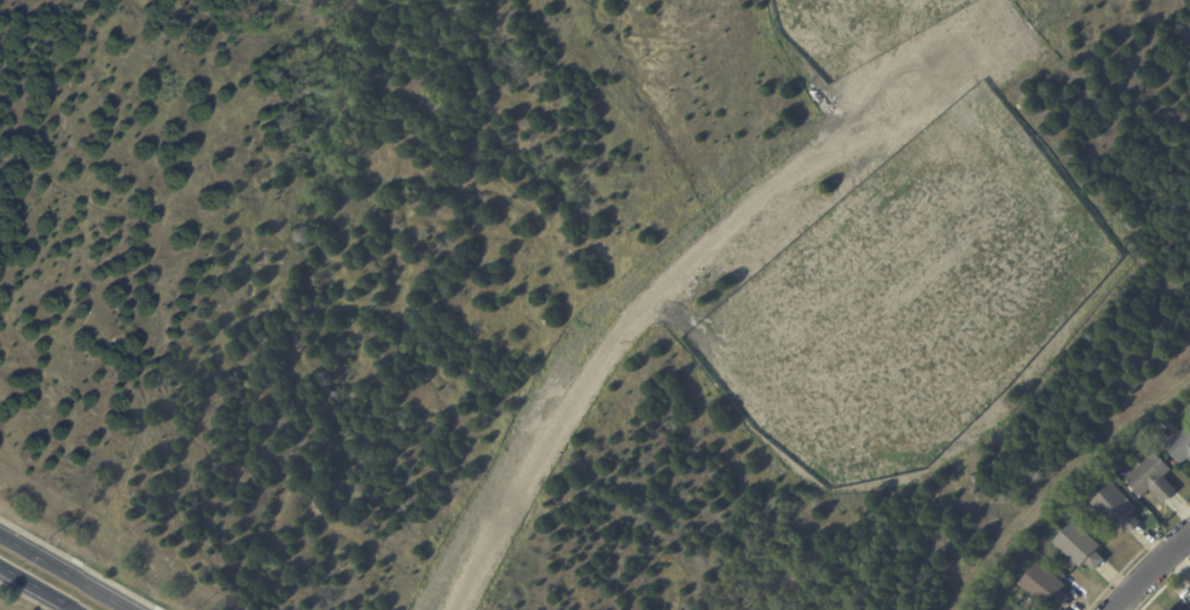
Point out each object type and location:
road: (646, 314)
building: (1169, 424)
building: (1180, 447)
building: (1153, 478)
building: (1118, 509)
building: (1080, 546)
road: (1149, 569)
road: (64, 573)
building: (1047, 586)
road: (36, 588)
building: (1006, 608)
building: (982, 609)
building: (1171, 609)
building: (1173, 609)

